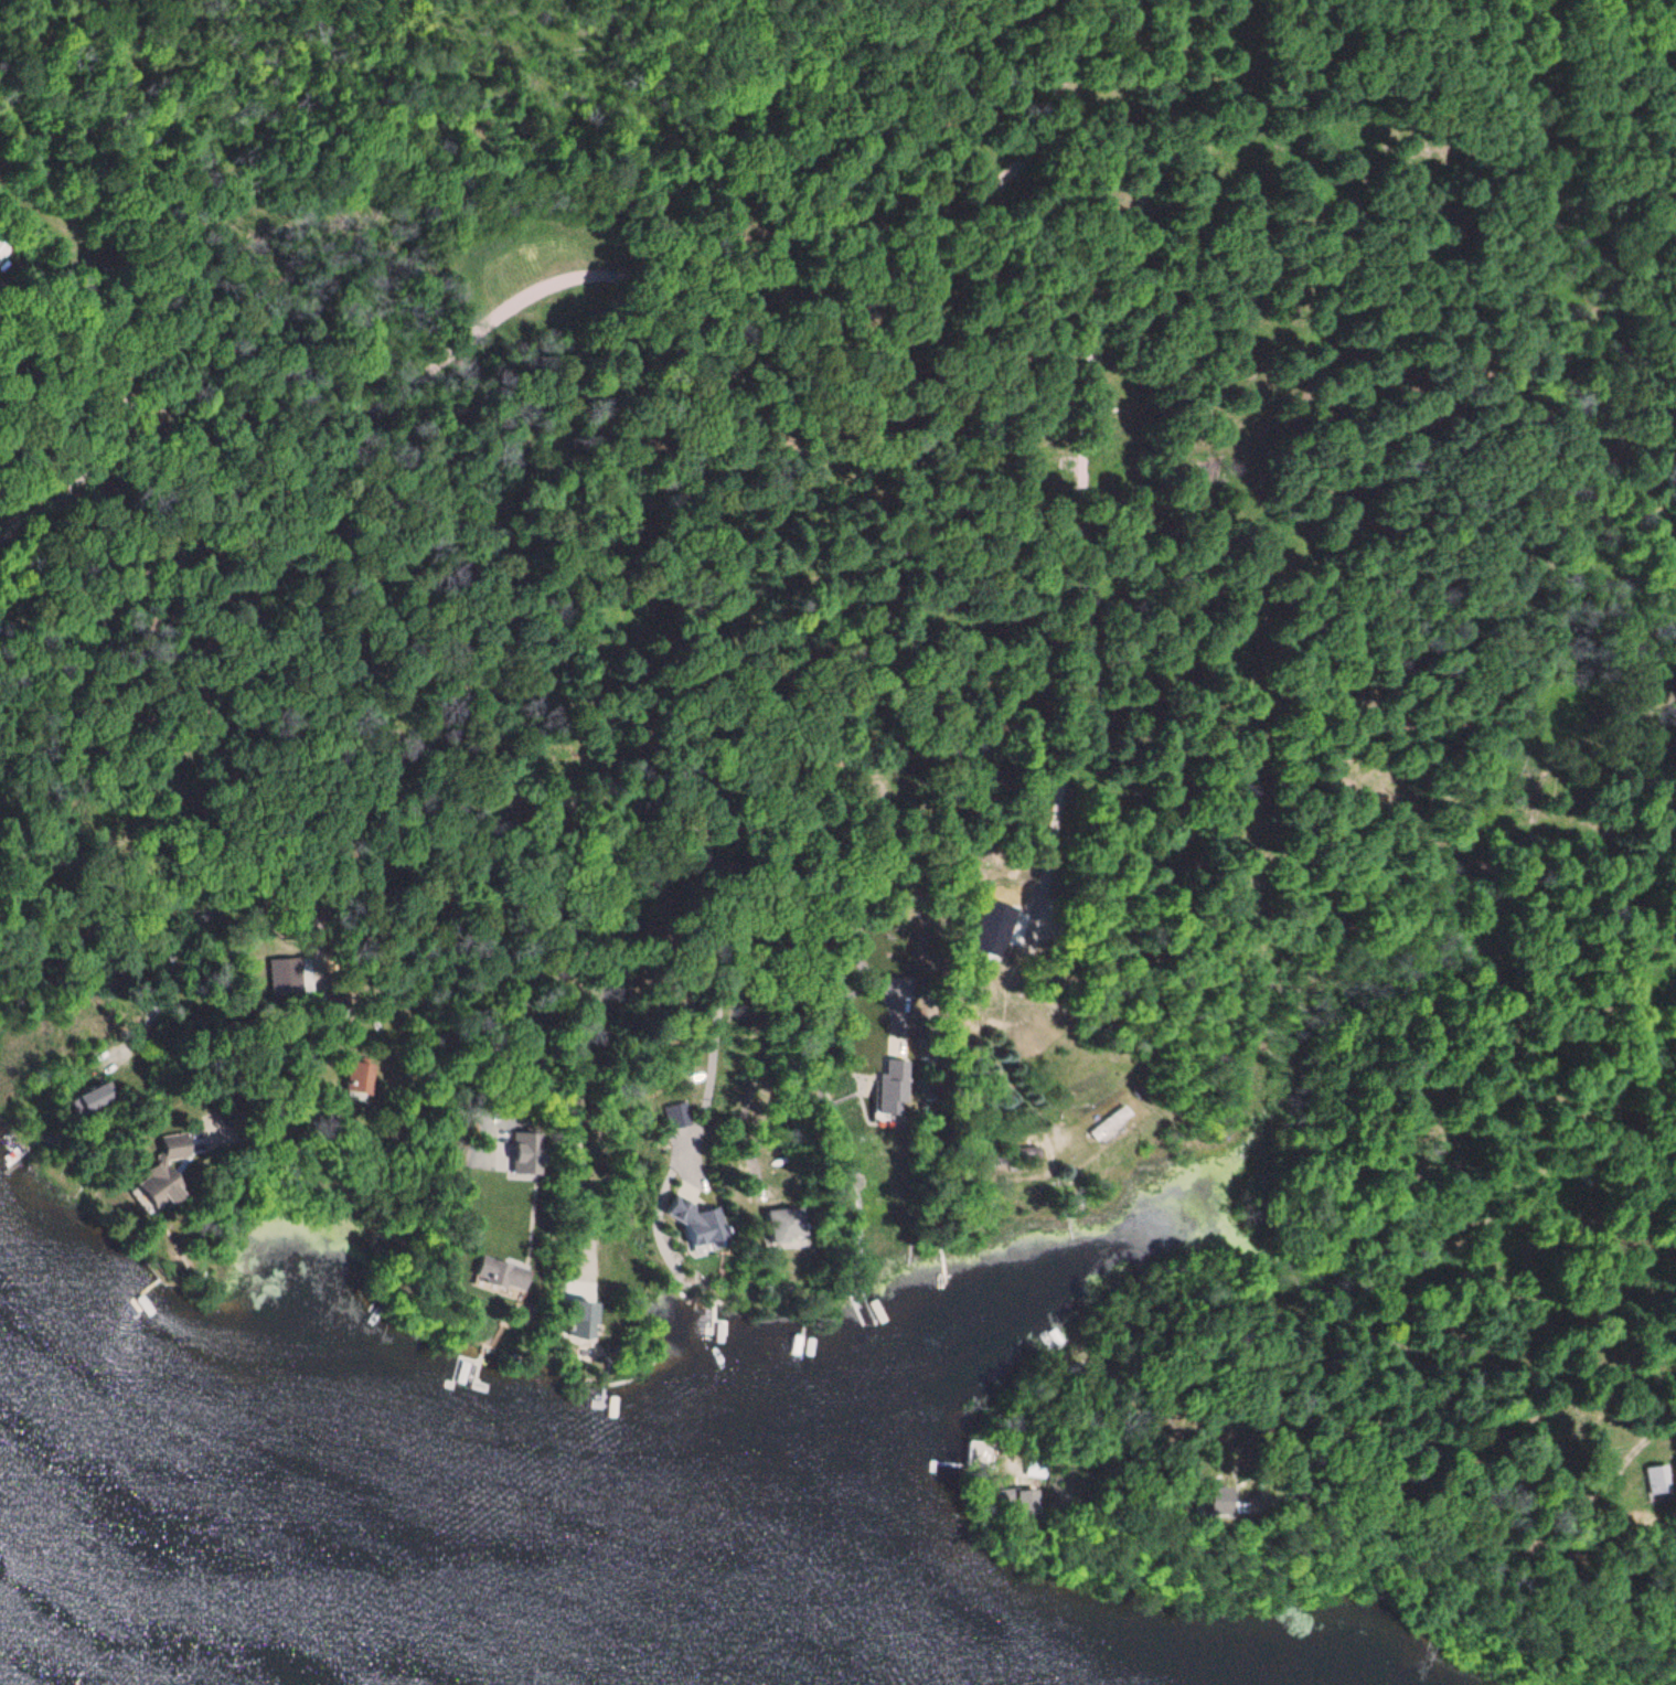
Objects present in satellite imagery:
building: (1, 249)
road: (460, 356)
building: (355, 1079)
building: (1027, 1153)
building: (162, 1166)
building: (787, 1226)
building: (705, 1231)
building: (502, 1276)
building: (583, 1322)
building: (469, 1363)
building: (1655, 1480)

